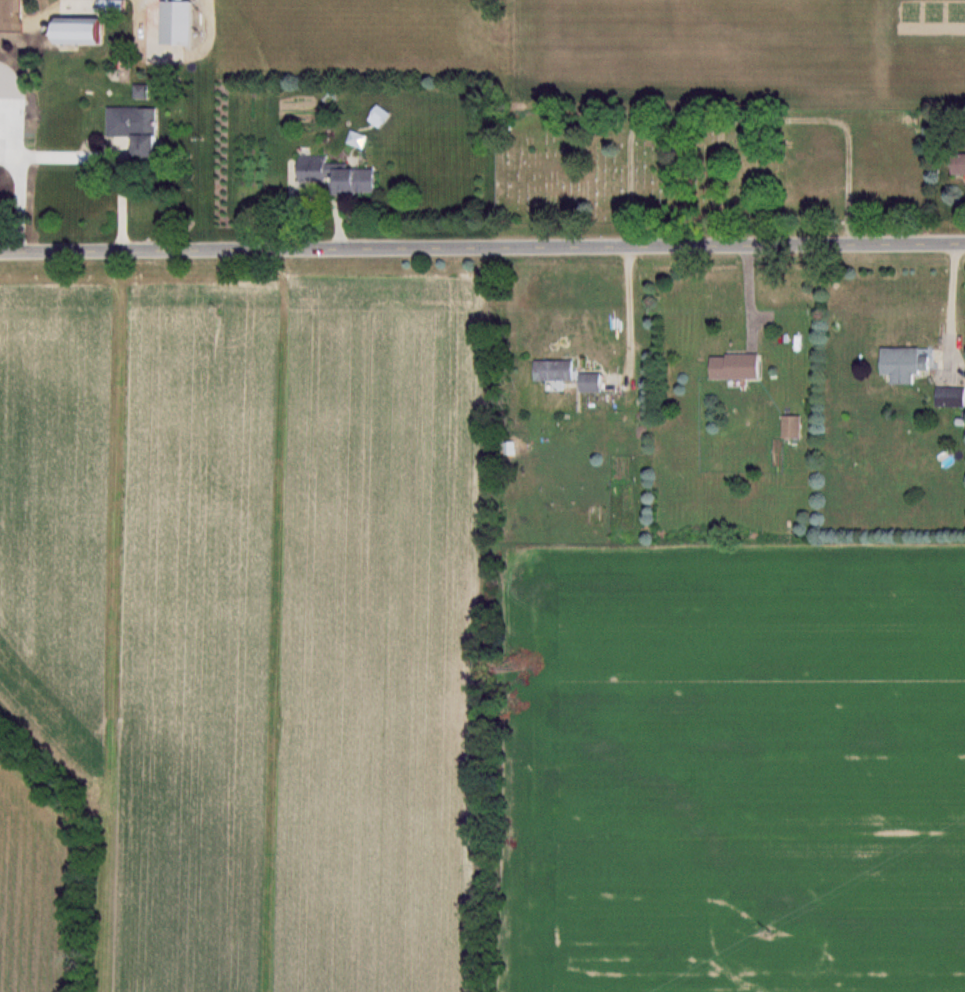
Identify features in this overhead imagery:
building: (115, 5)
building: (181, 21)
building: (84, 30)
building: (140, 127)
park: (612, 161)
building: (961, 162)
building: (316, 166)
building: (357, 179)
road: (120, 196)
road: (23, 198)
road: (482, 250)
road: (950, 305)
road: (627, 315)
building: (900, 361)
building: (742, 364)
building: (556, 373)
building: (594, 382)
building: (949, 392)
building: (795, 426)
building: (592, 514)

